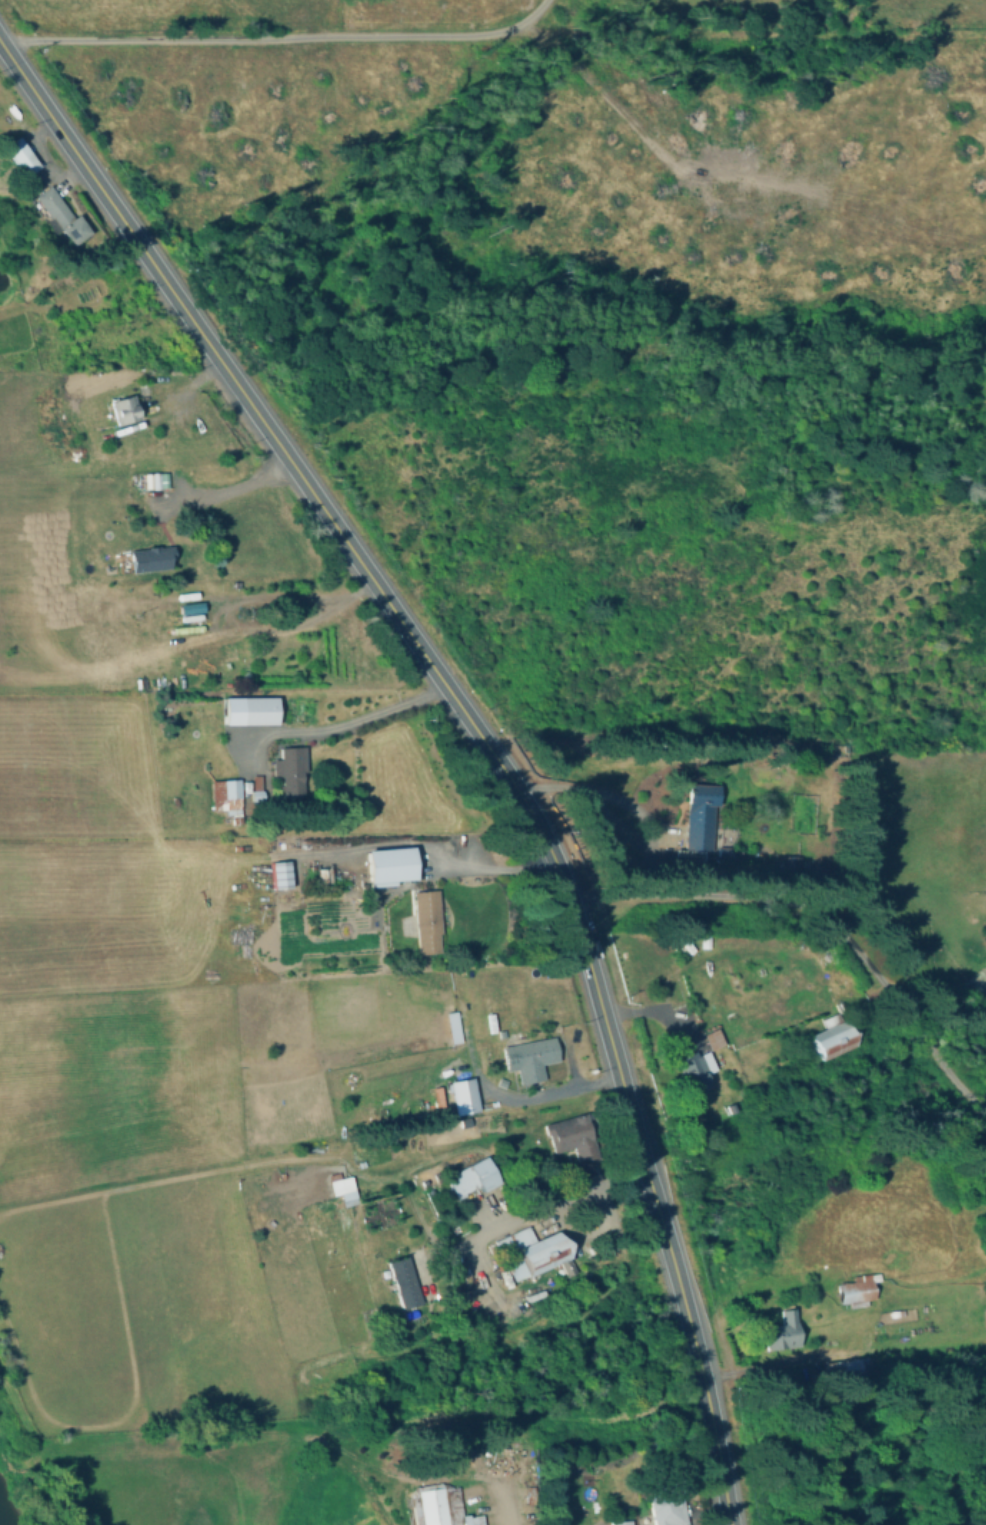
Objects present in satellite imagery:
road: (274, 34)
building: (21, 157)
building: (61, 216)
building: (125, 409)
building: (150, 479)
road: (230, 490)
building: (154, 557)
road: (388, 599)
building: (192, 608)
building: (201, 651)
building: (250, 710)
road: (342, 723)
building: (214, 750)
building: (292, 770)
building: (258, 788)
building: (228, 795)
building: (700, 815)
building: (687, 855)
building: (791, 864)
building: (391, 865)
road: (488, 866)
building: (282, 874)
road: (821, 913)
building: (428, 920)
building: (972, 993)
road: (653, 1011)
building: (451, 1025)
building: (831, 1037)
building: (714, 1038)
building: (531, 1058)
building: (695, 1077)
road: (552, 1092)
building: (464, 1095)
building: (728, 1114)
building: (568, 1136)
road: (250, 1163)
building: (482, 1176)
building: (458, 1187)
building: (343, 1192)
road: (553, 1207)
building: (531, 1257)
road: (677, 1274)
building: (402, 1287)
building: (859, 1289)
building: (985, 1314)
building: (782, 1331)
road: (837, 1350)
building: (850, 1367)
road: (37, 1414)
road: (714, 1428)
road: (281, 1432)
building: (497, 1454)
building: (454, 1455)
road: (493, 1481)
building: (469, 1491)
building: (530, 1494)
building: (447, 1505)
building: (667, 1510)
river: (2, 1519)
building: (622, 1523)

